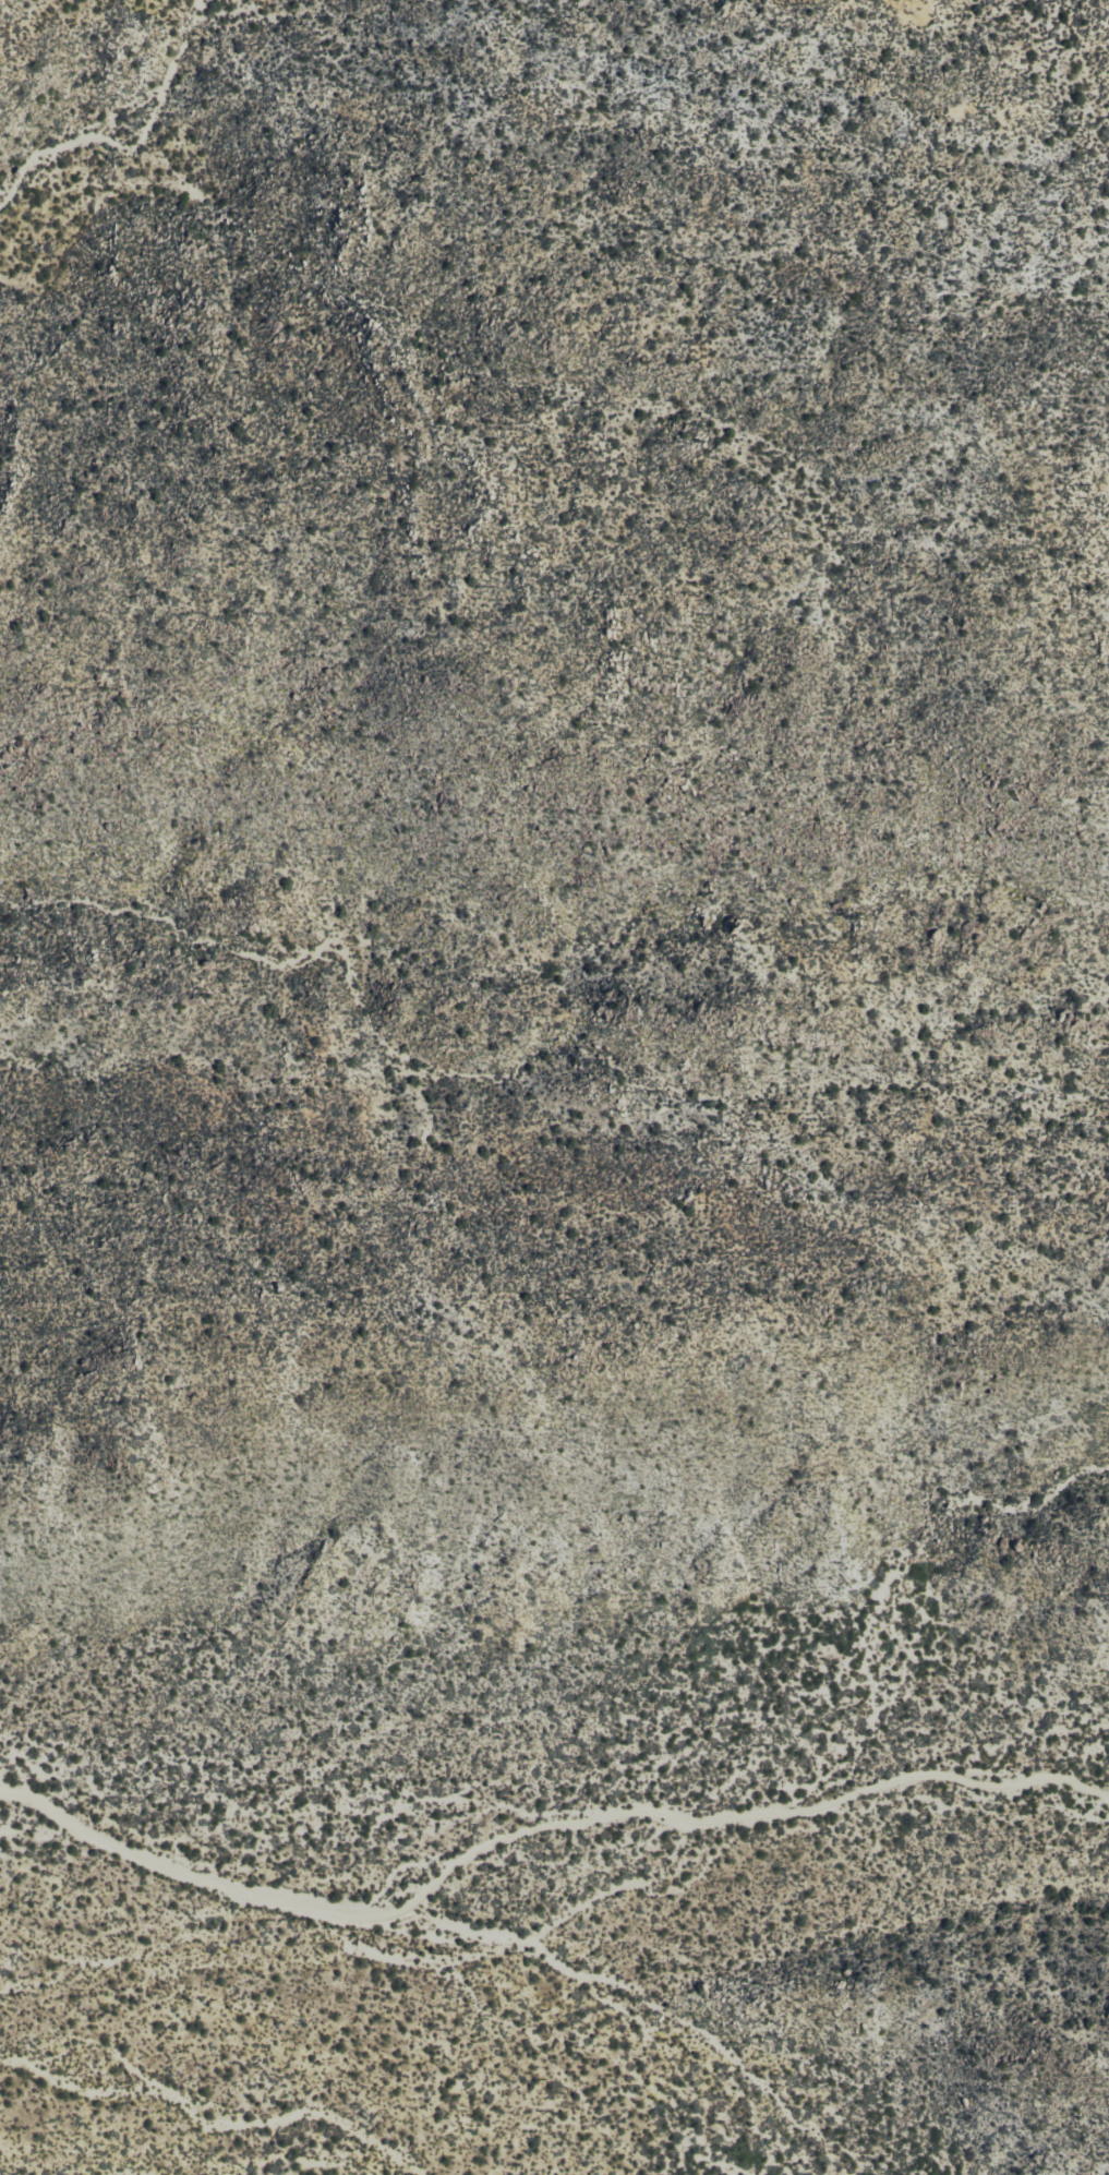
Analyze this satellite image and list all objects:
road: (535, 1826)

